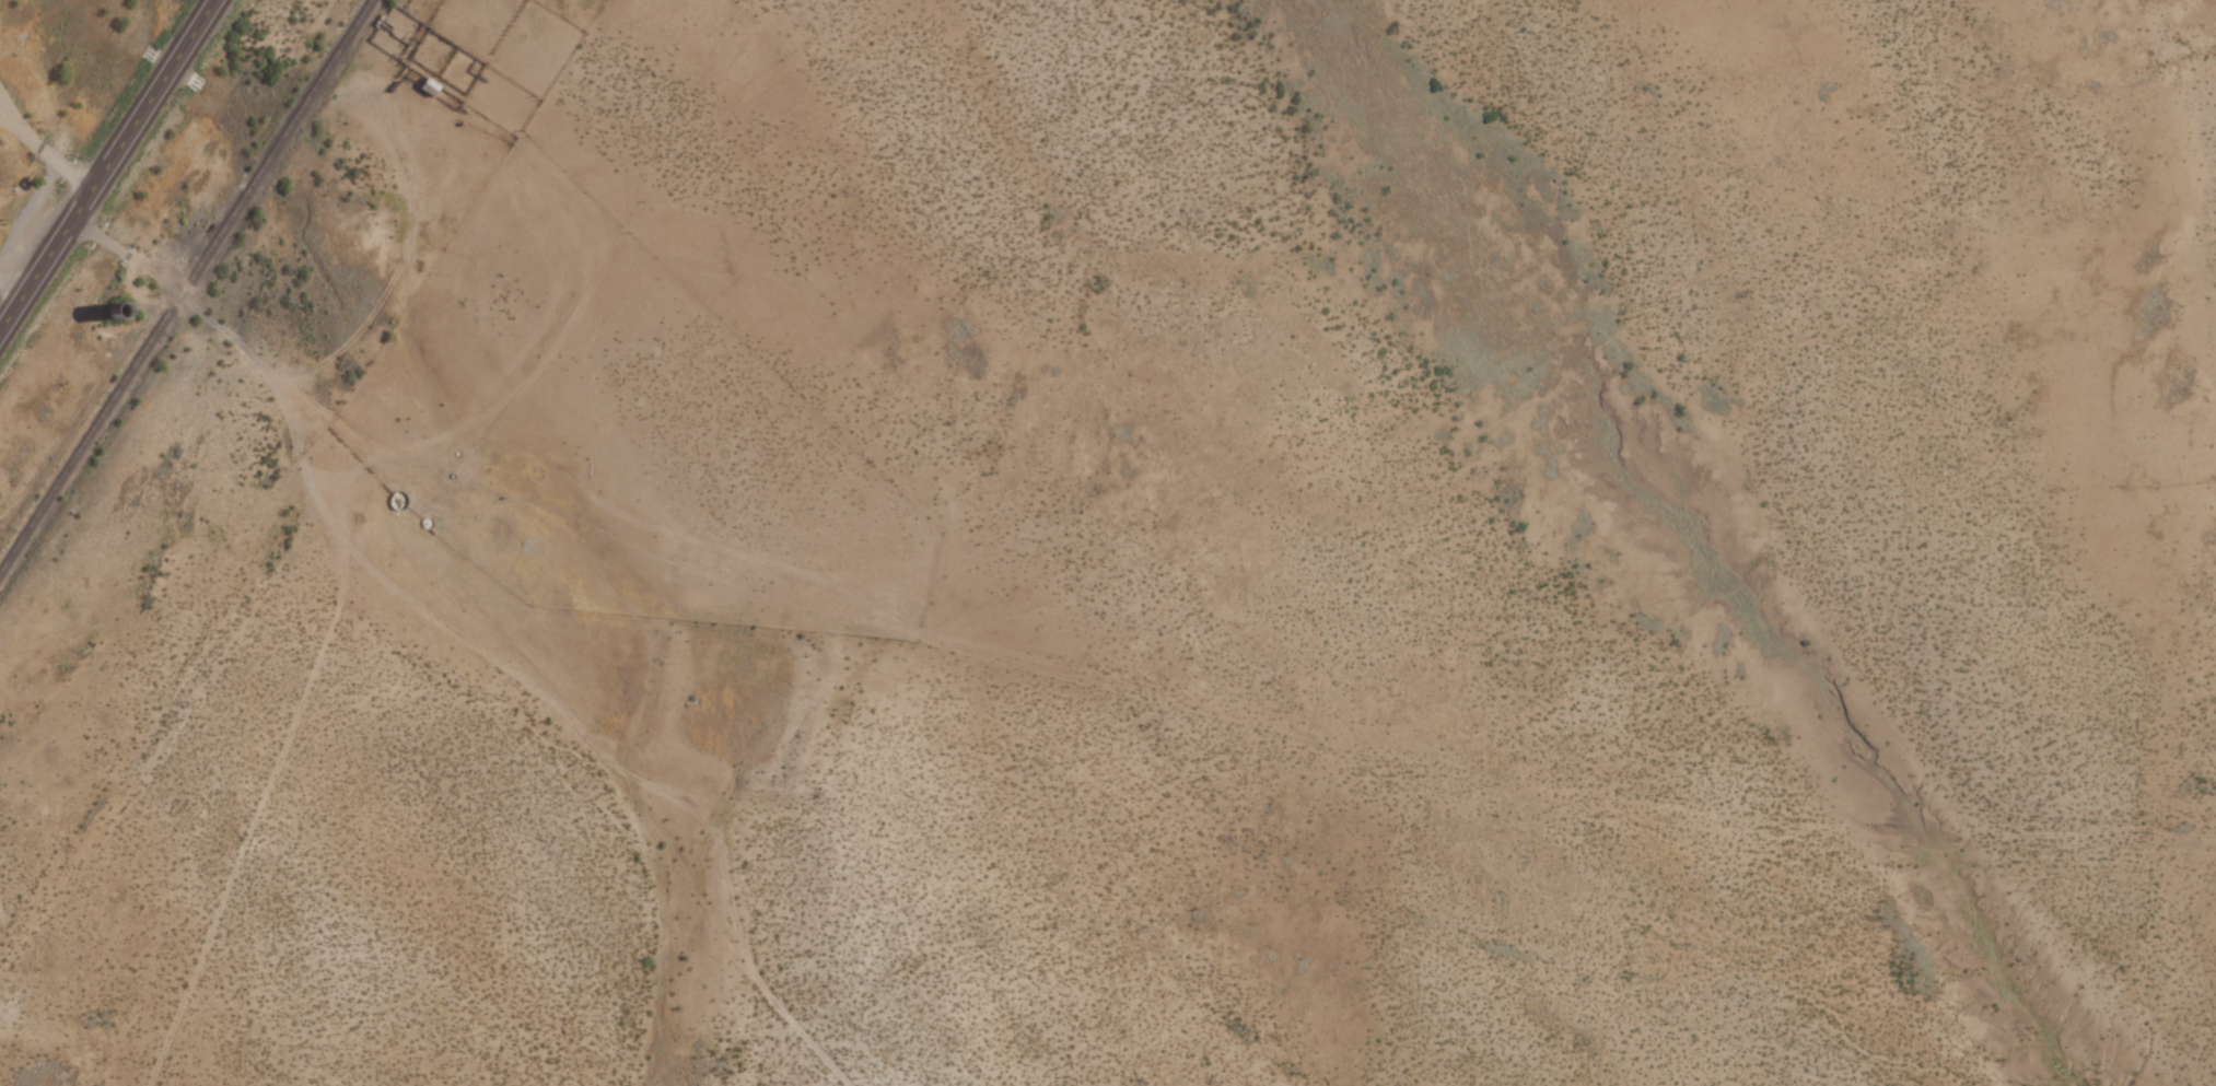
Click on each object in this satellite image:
road: (40, 135)
road: (106, 163)
road: (407, 245)
railway: (183, 283)
road: (514, 382)
road: (199, 734)
road: (628, 791)

